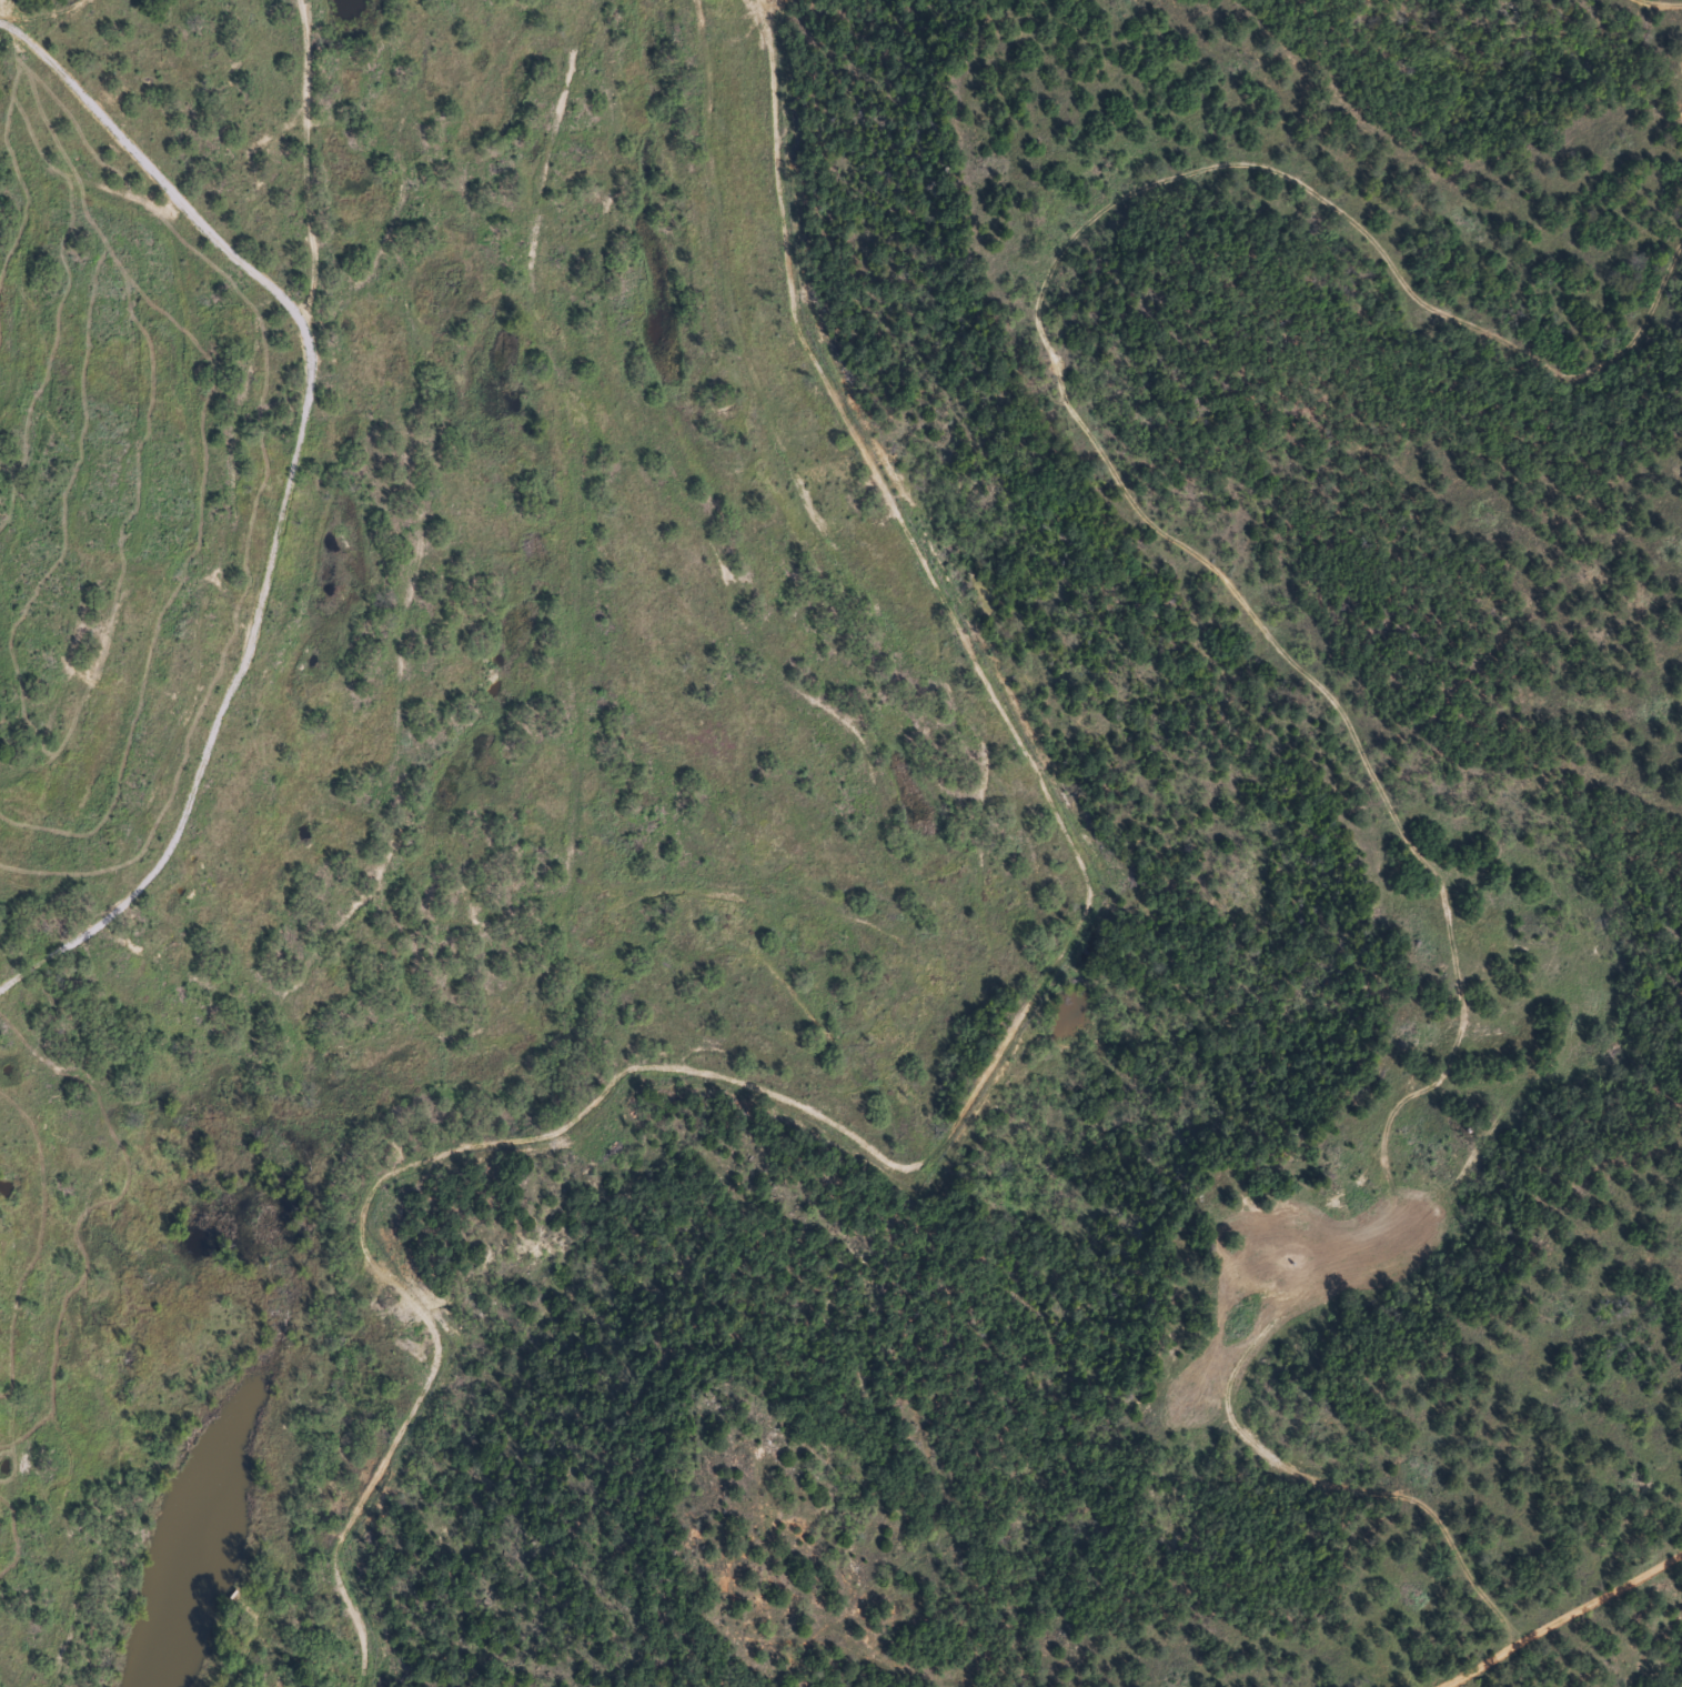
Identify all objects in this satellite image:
road: (1561, 1624)

